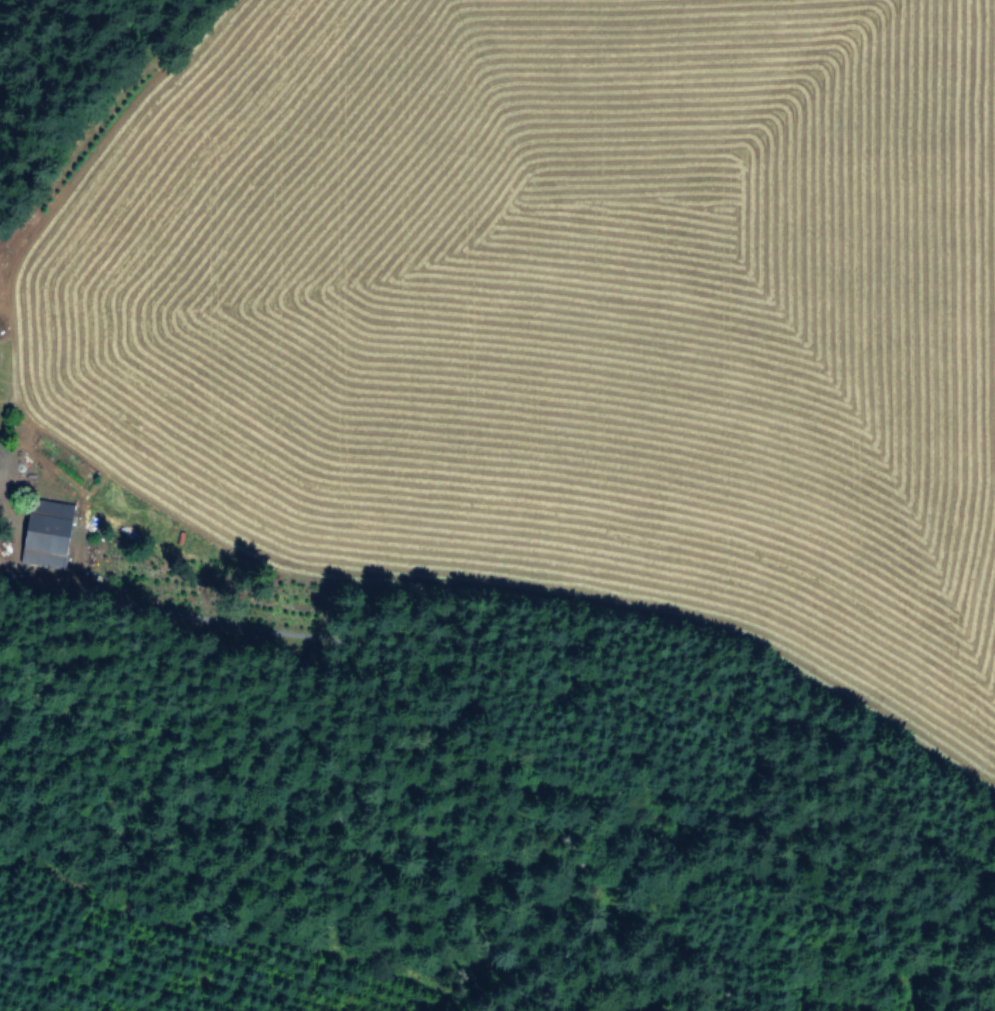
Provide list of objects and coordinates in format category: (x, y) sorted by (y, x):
crop: (588, 334)

